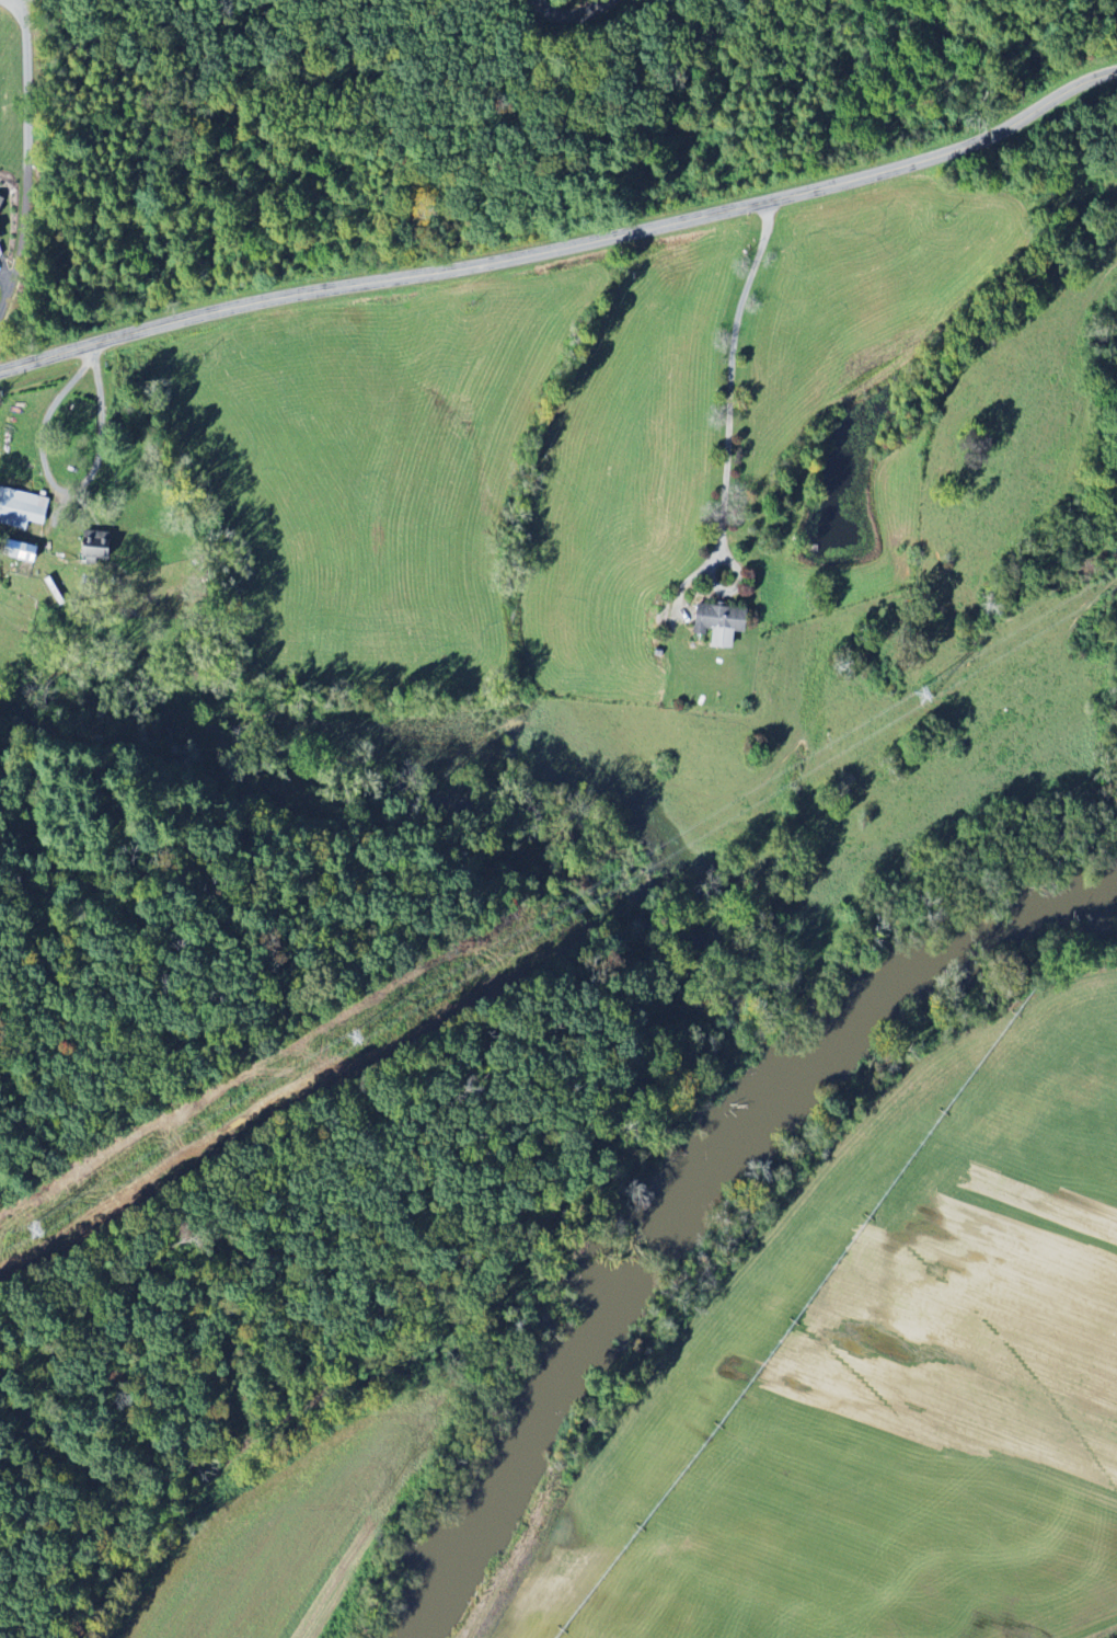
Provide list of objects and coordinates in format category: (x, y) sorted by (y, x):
road: (579, 20)
building: (1, 207)
road: (24, 227)
road: (563, 248)
road: (7, 284)
road: (733, 373)
road: (61, 494)
building: (23, 509)
building: (97, 546)
building: (25, 551)
building: (713, 626)
power tower: (919, 696)
river: (936, 964)
power tower: (354, 1038)
power tower: (36, 1230)
river: (572, 1347)

